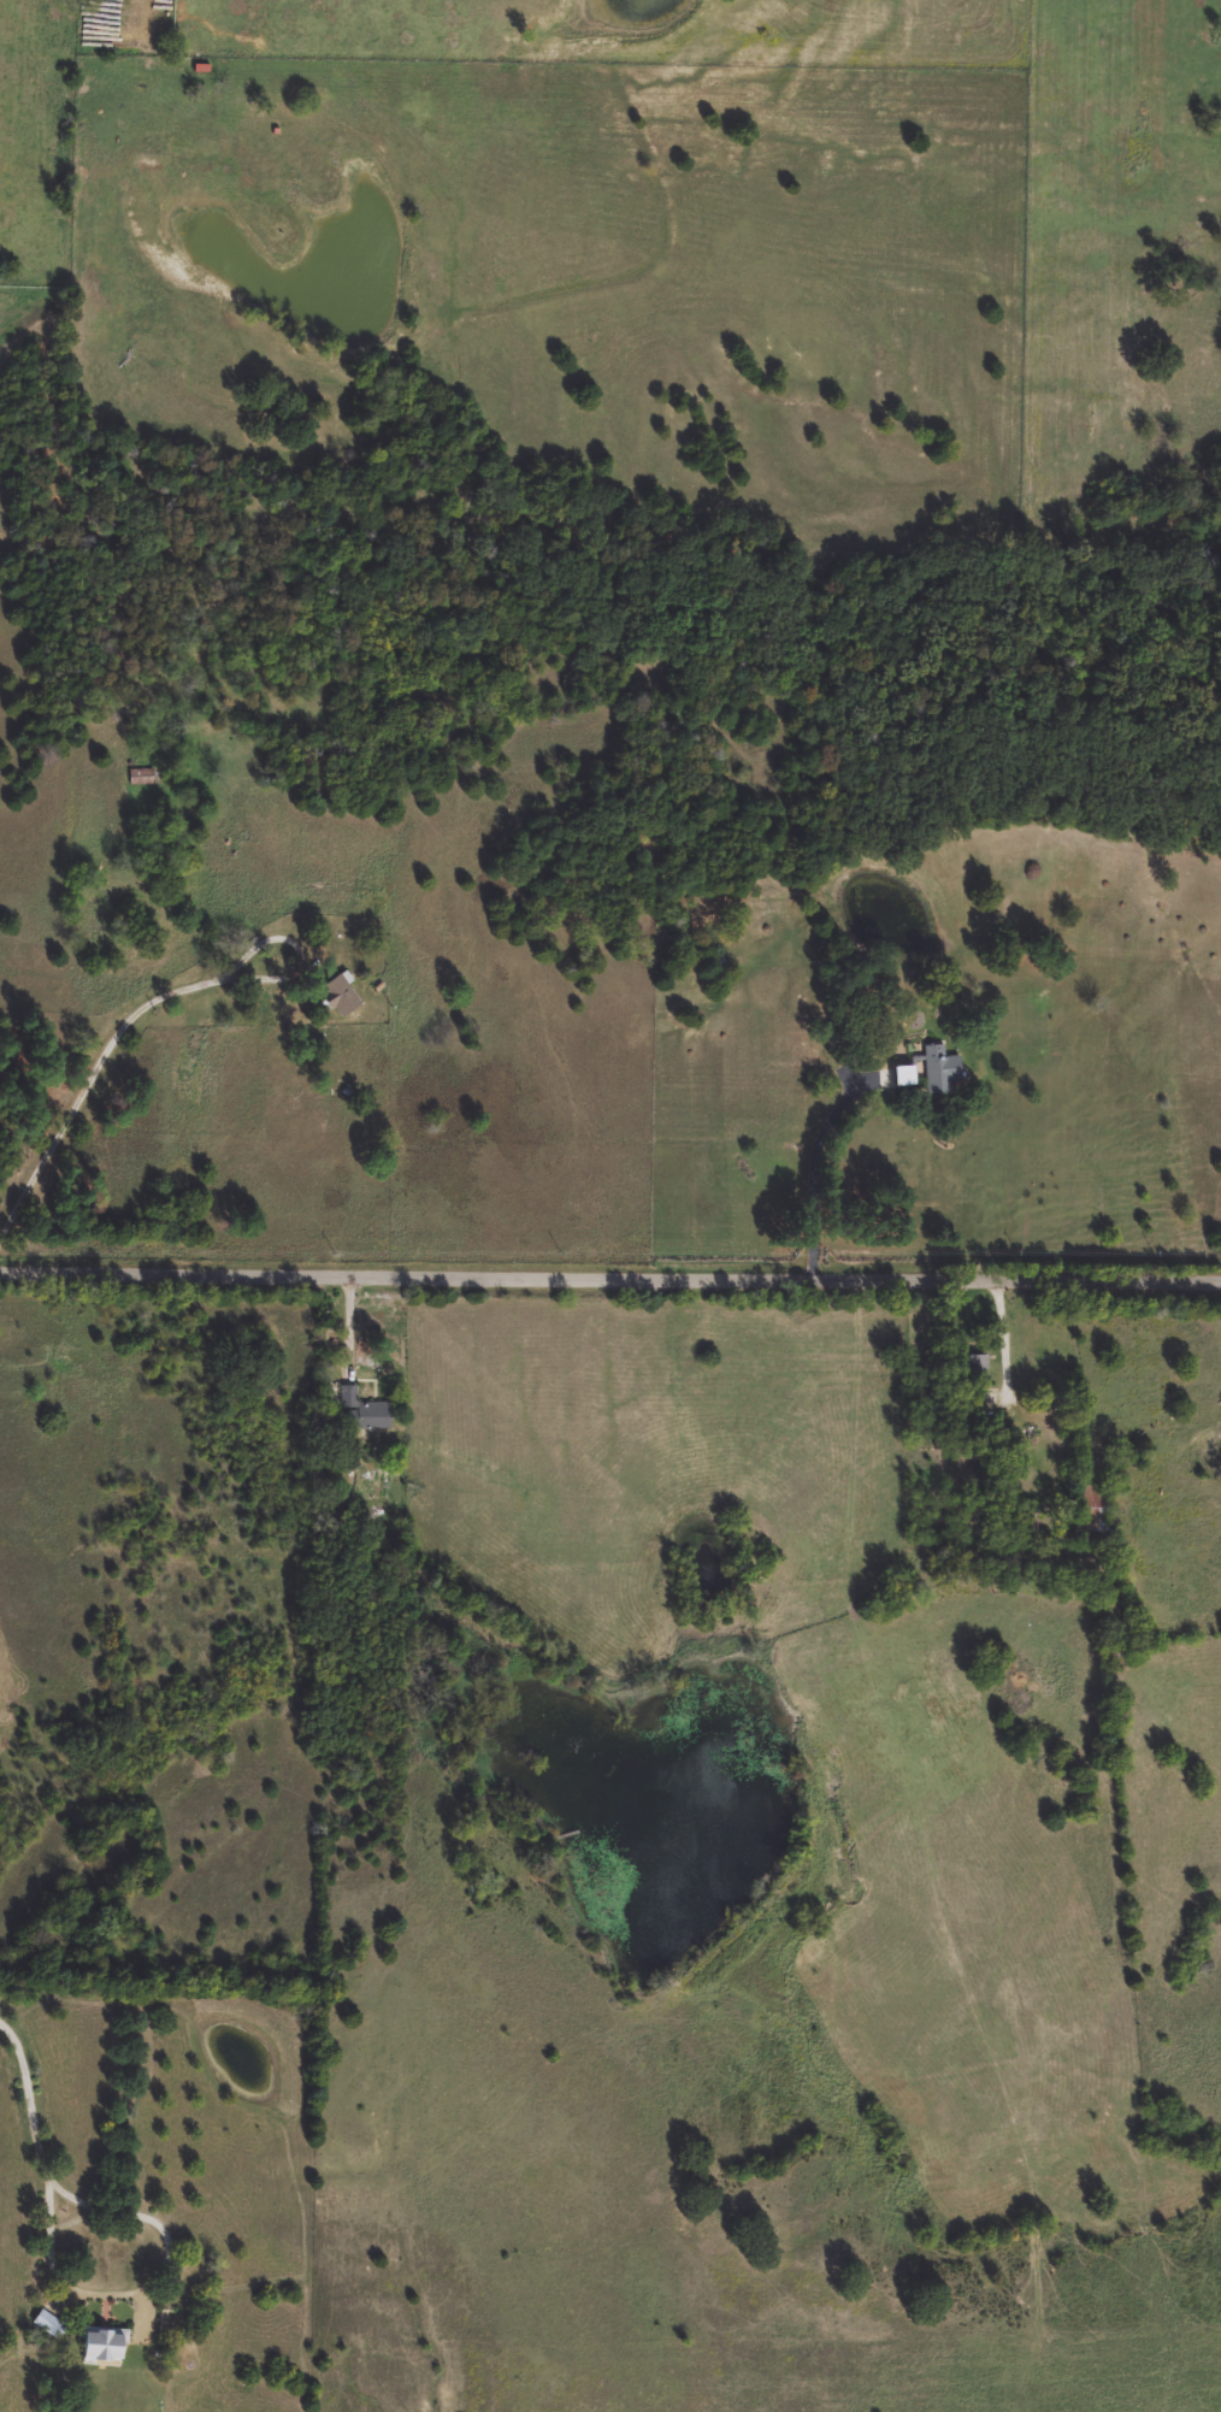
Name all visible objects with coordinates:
building: (144, 778)
building: (342, 997)
road: (102, 1067)
building: (943, 1072)
building: (906, 1080)
road: (813, 1175)
road: (610, 1275)
road: (353, 1316)
road: (1004, 1328)
building: (974, 1369)
building: (367, 1410)
building: (1091, 1511)
road: (31, 2090)
road: (134, 2282)
building: (52, 2325)
building: (105, 2345)

